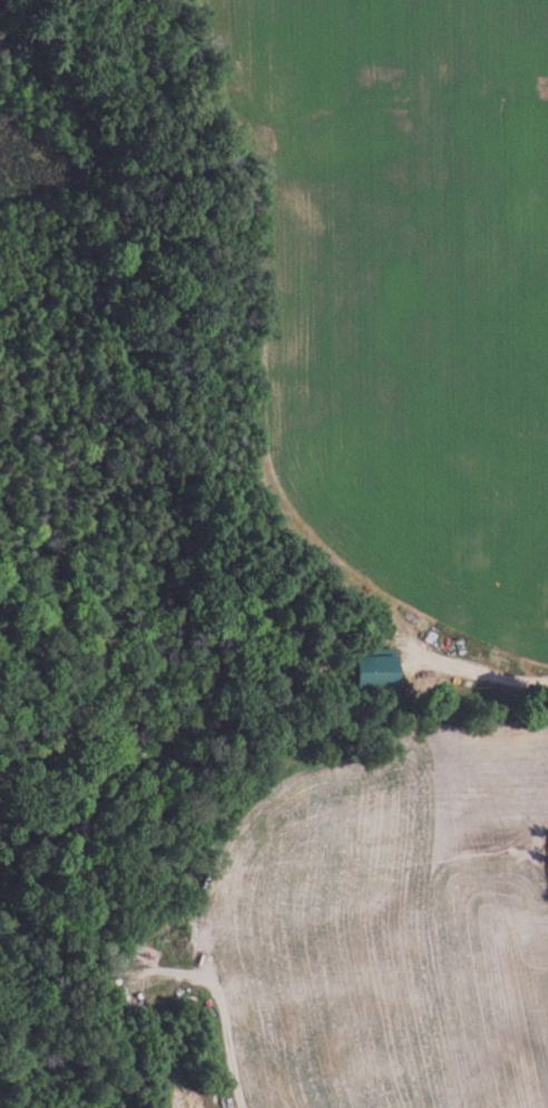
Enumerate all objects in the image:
building: (383, 670)
road: (241, 1081)

